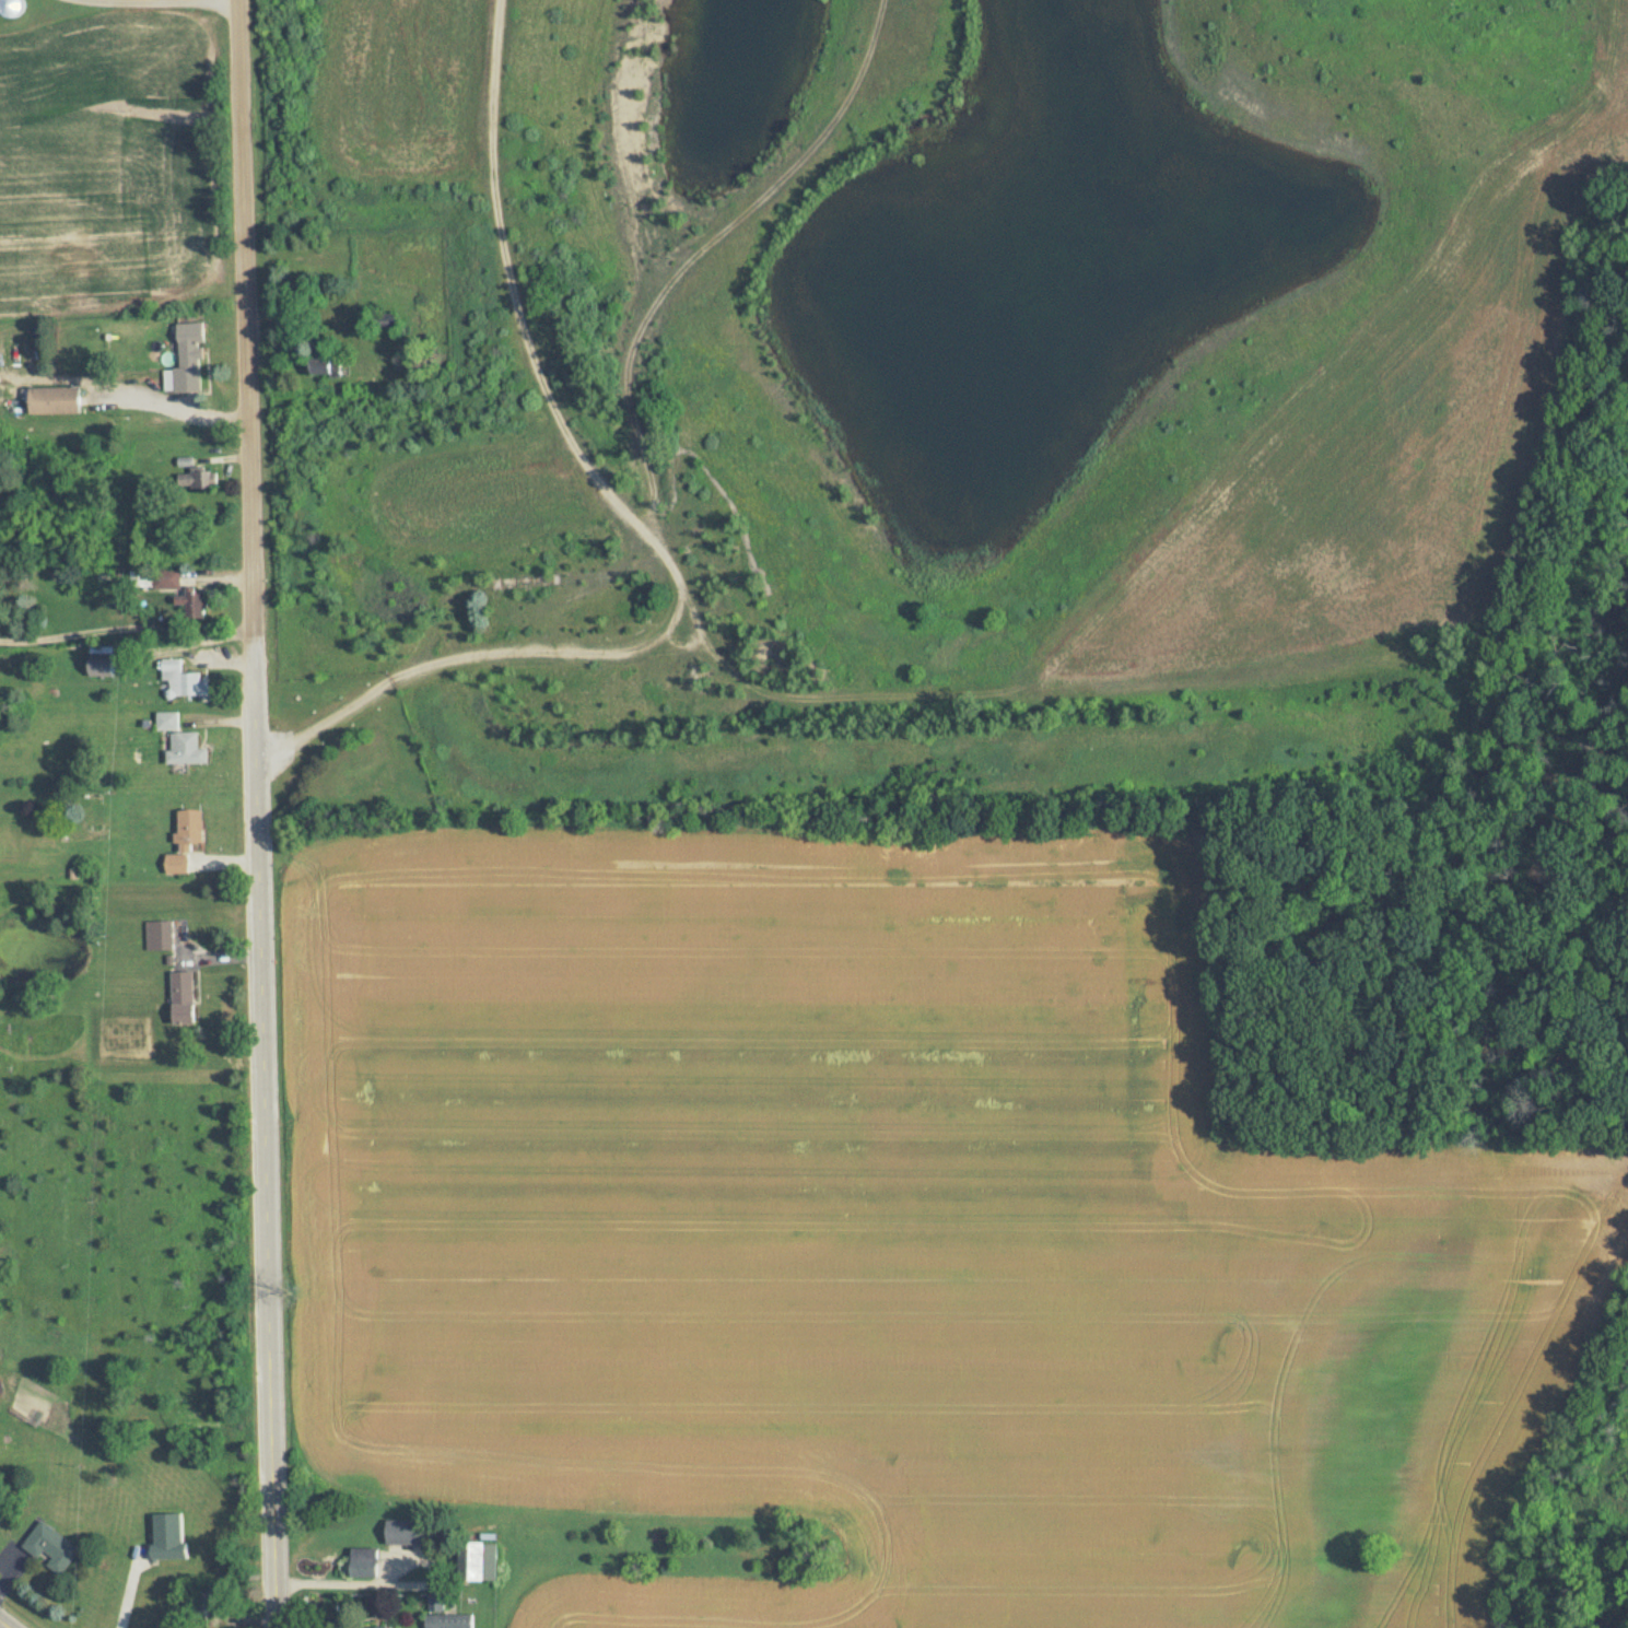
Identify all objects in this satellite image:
road: (168, 1)
building: (10, 7)
building: (388, 324)
building: (186, 355)
building: (325, 362)
building: (54, 399)
building: (201, 477)
building: (169, 576)
building: (512, 583)
building: (194, 605)
building: (99, 665)
building: (184, 679)
building: (180, 741)
road: (258, 813)
building: (186, 839)
building: (160, 935)
building: (183, 997)
building: (406, 1532)
building: (168, 1536)
building: (51, 1546)
building: (479, 1560)
building: (363, 1562)
road: (397, 1571)
building: (448, 1620)
road: (4, 1624)
building: (373, 1627)

